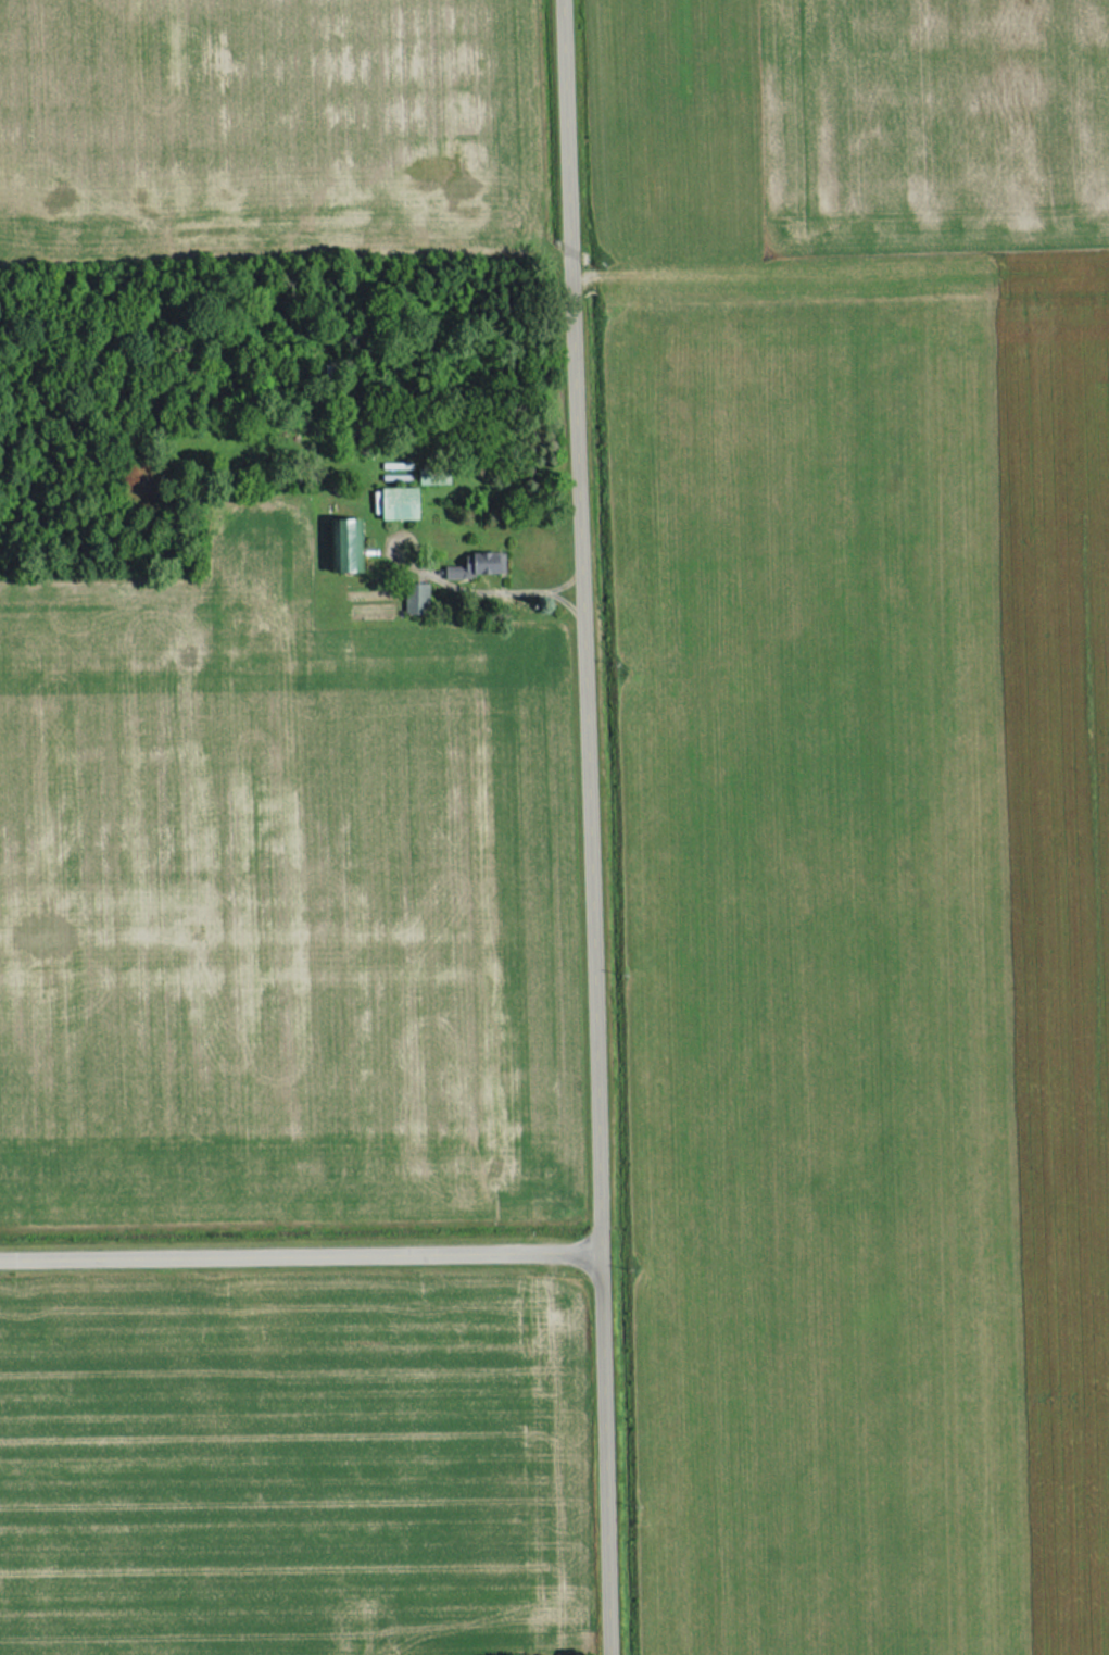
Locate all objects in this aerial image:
crop: (263, 127)
crop: (845, 130)
building: (395, 503)
building: (341, 544)
building: (476, 566)
building: (413, 599)
road: (593, 827)
crop: (279, 916)
crop: (865, 948)
road: (302, 1252)
crop: (292, 1468)

